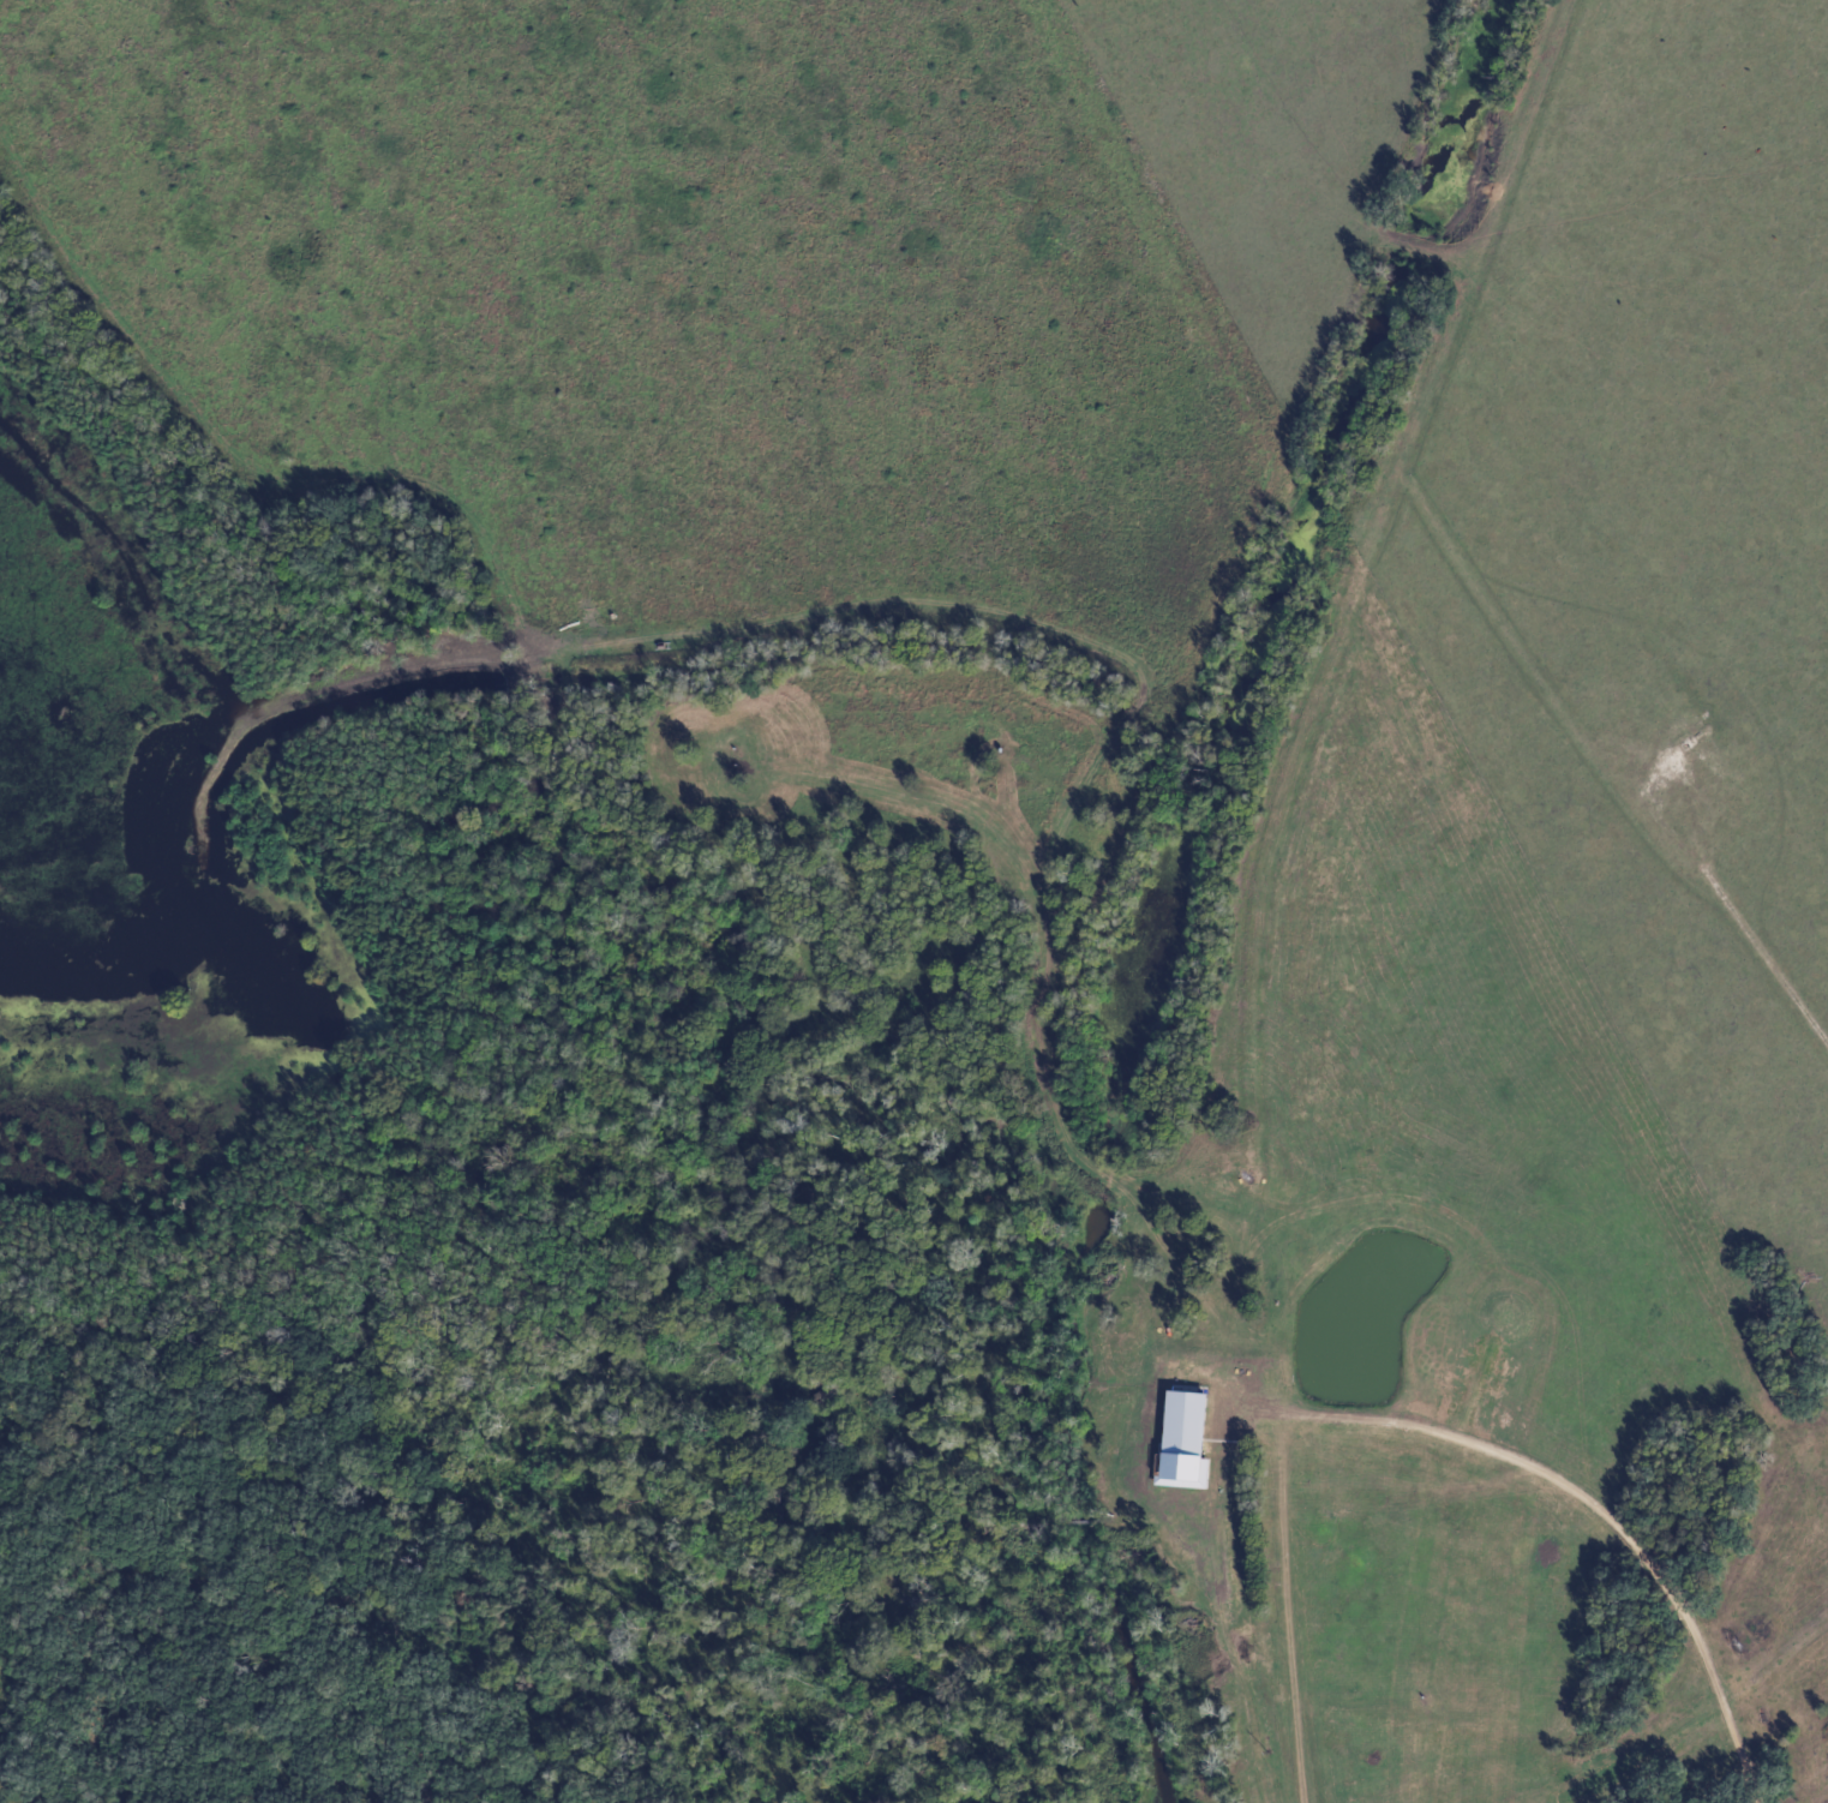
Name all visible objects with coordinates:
building: (1188, 1443)

